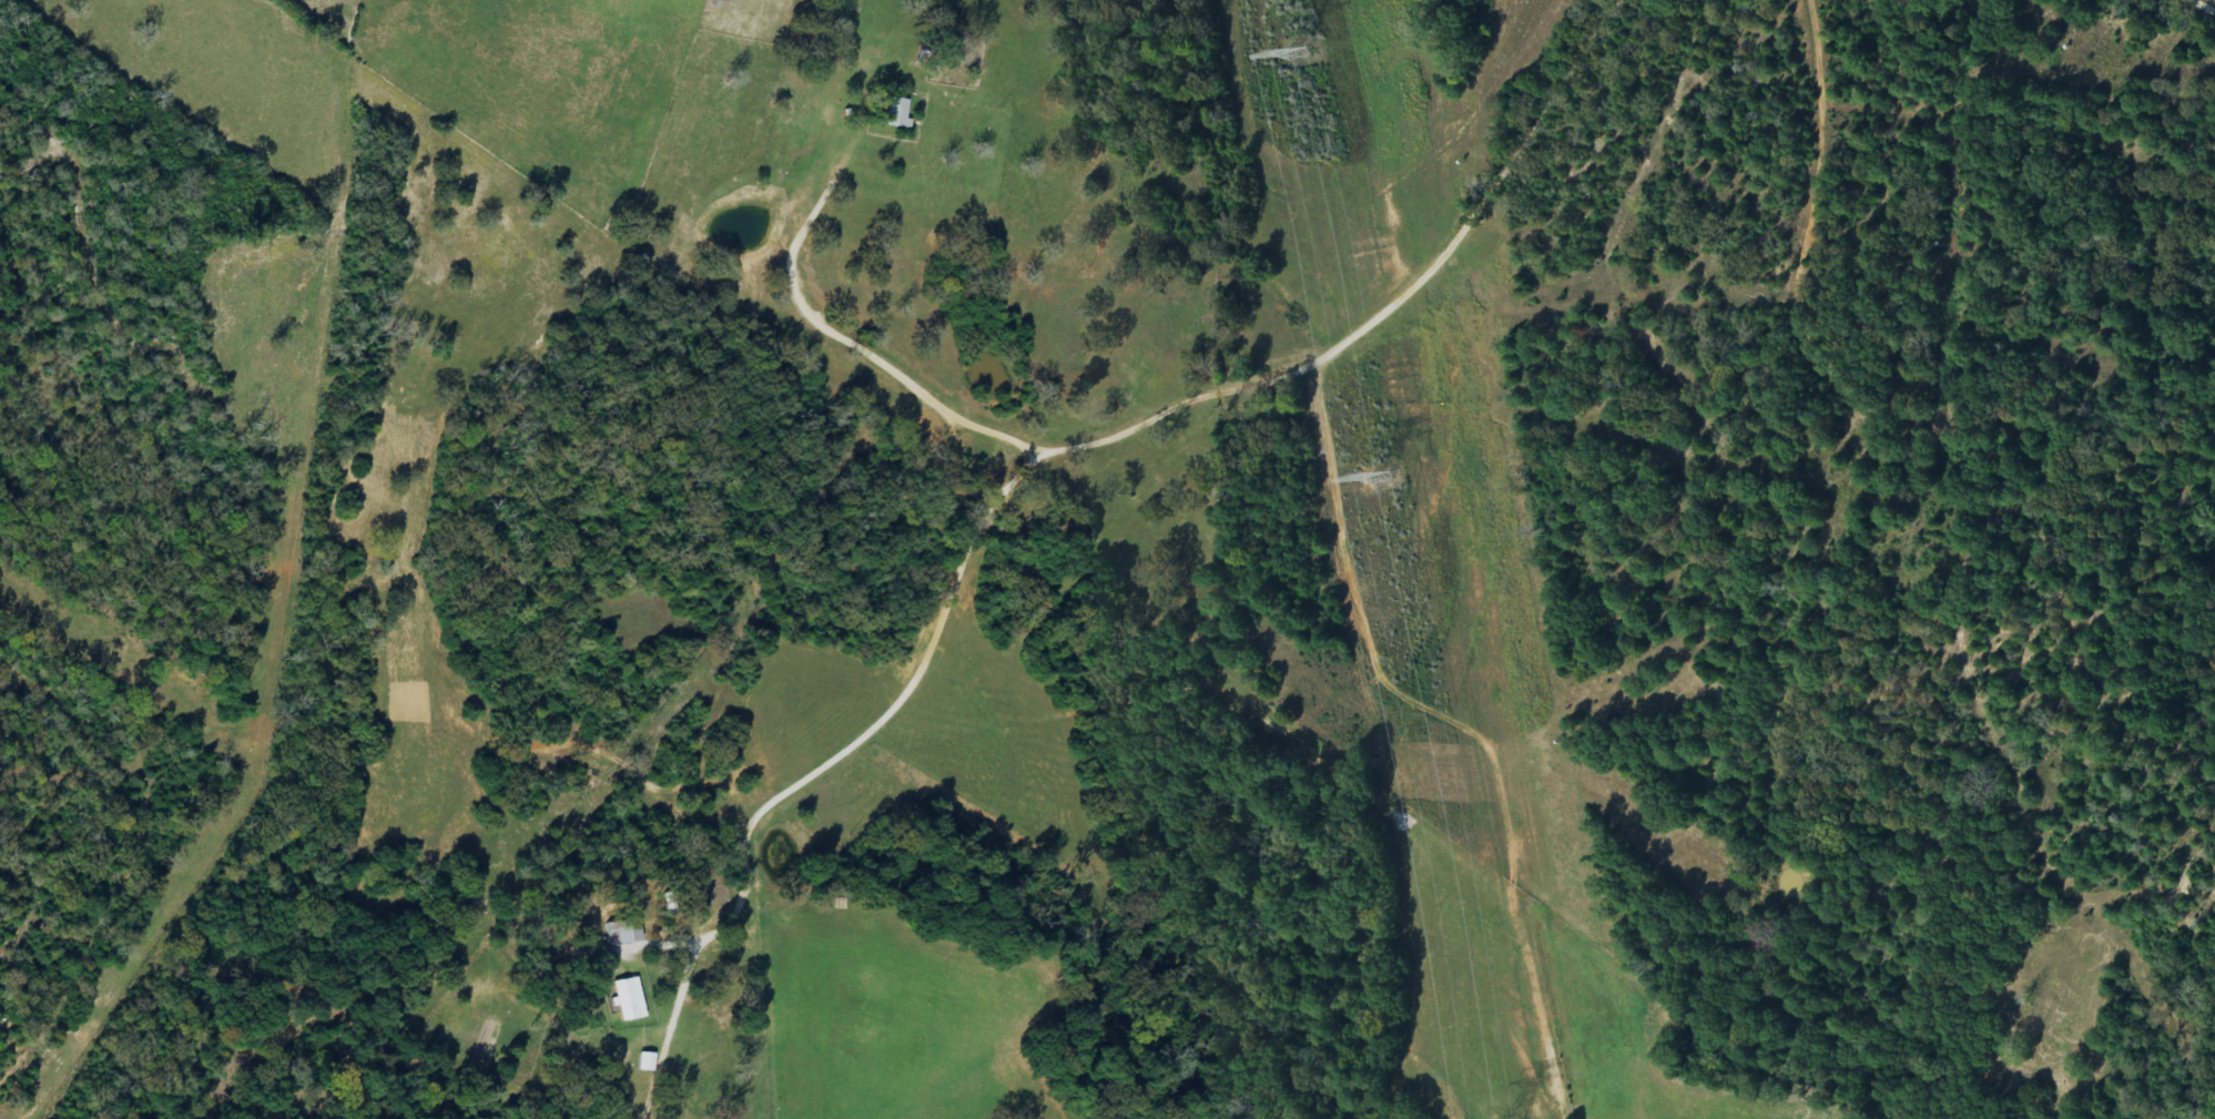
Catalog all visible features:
road: (2138, 13)
power tower: (1297, 54)
building: (897, 113)
road: (1140, 455)
power tower: (1379, 475)
road: (1795, 566)
road: (1170, 795)
building: (622, 933)
building: (628, 1000)
building: (646, 1062)

